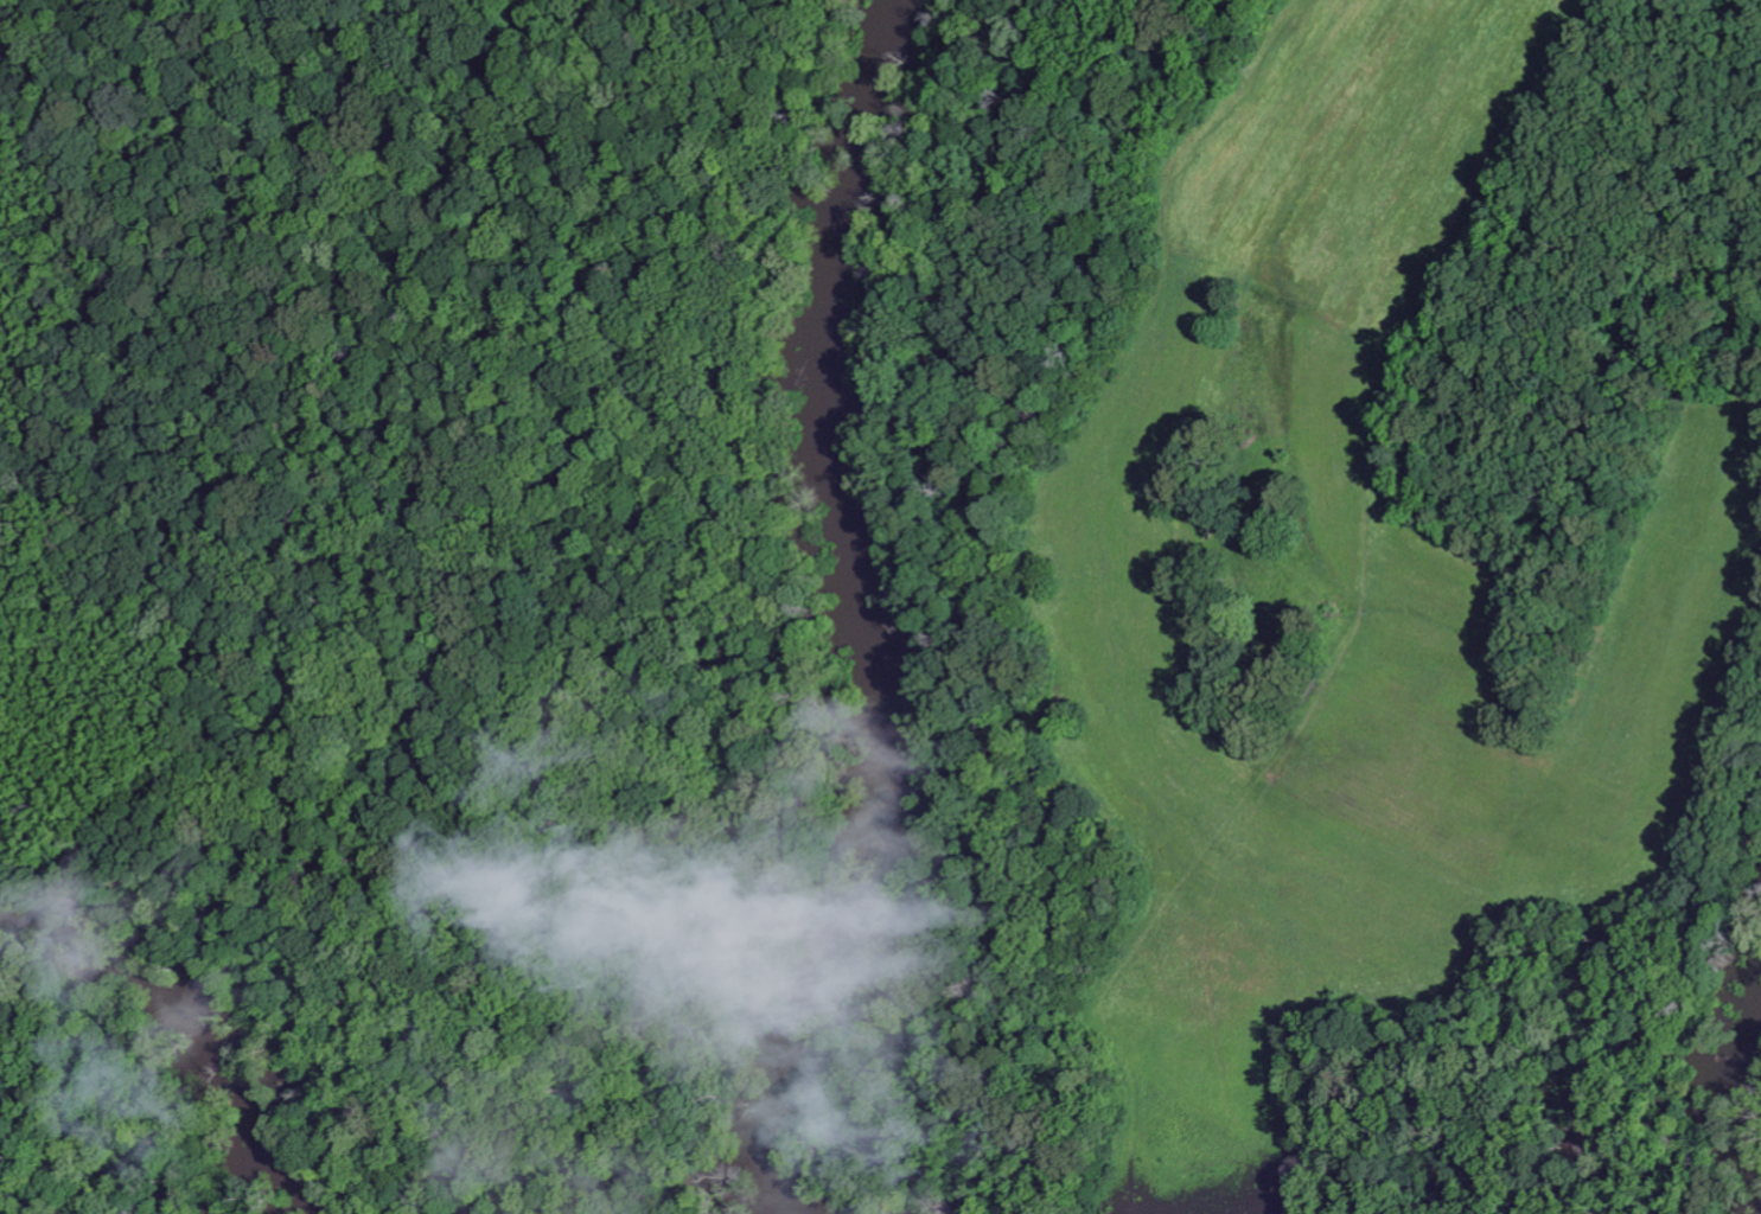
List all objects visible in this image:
river: (875, 619)
river: (212, 1011)
river: (1749, 1094)
river: (787, 1201)

